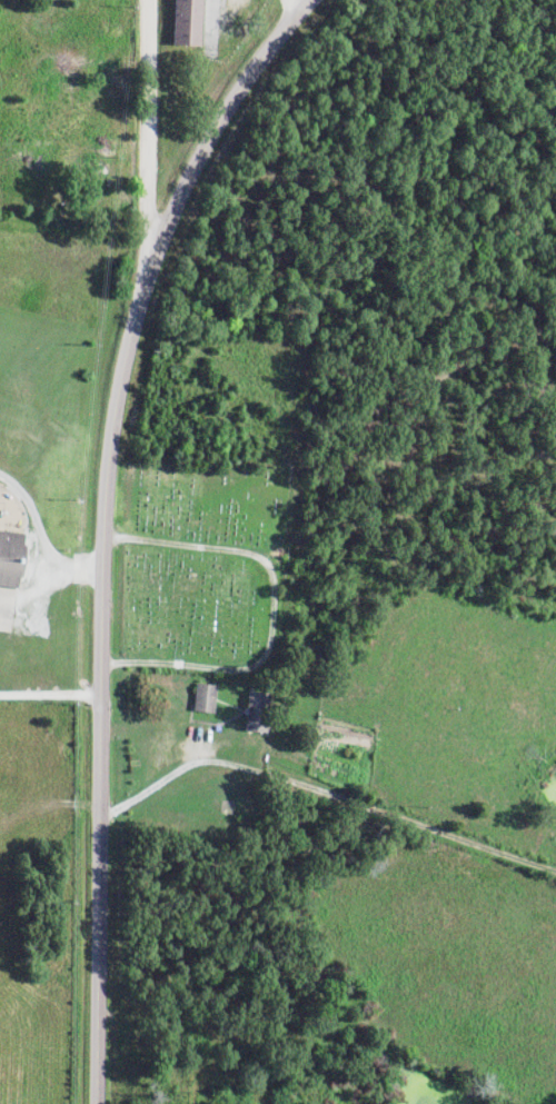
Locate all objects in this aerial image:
building: (186, 22)
road: (147, 123)
road: (105, 528)
road: (40, 539)
park: (191, 588)
road: (49, 696)
building: (203, 698)
building: (255, 712)
road: (324, 796)

